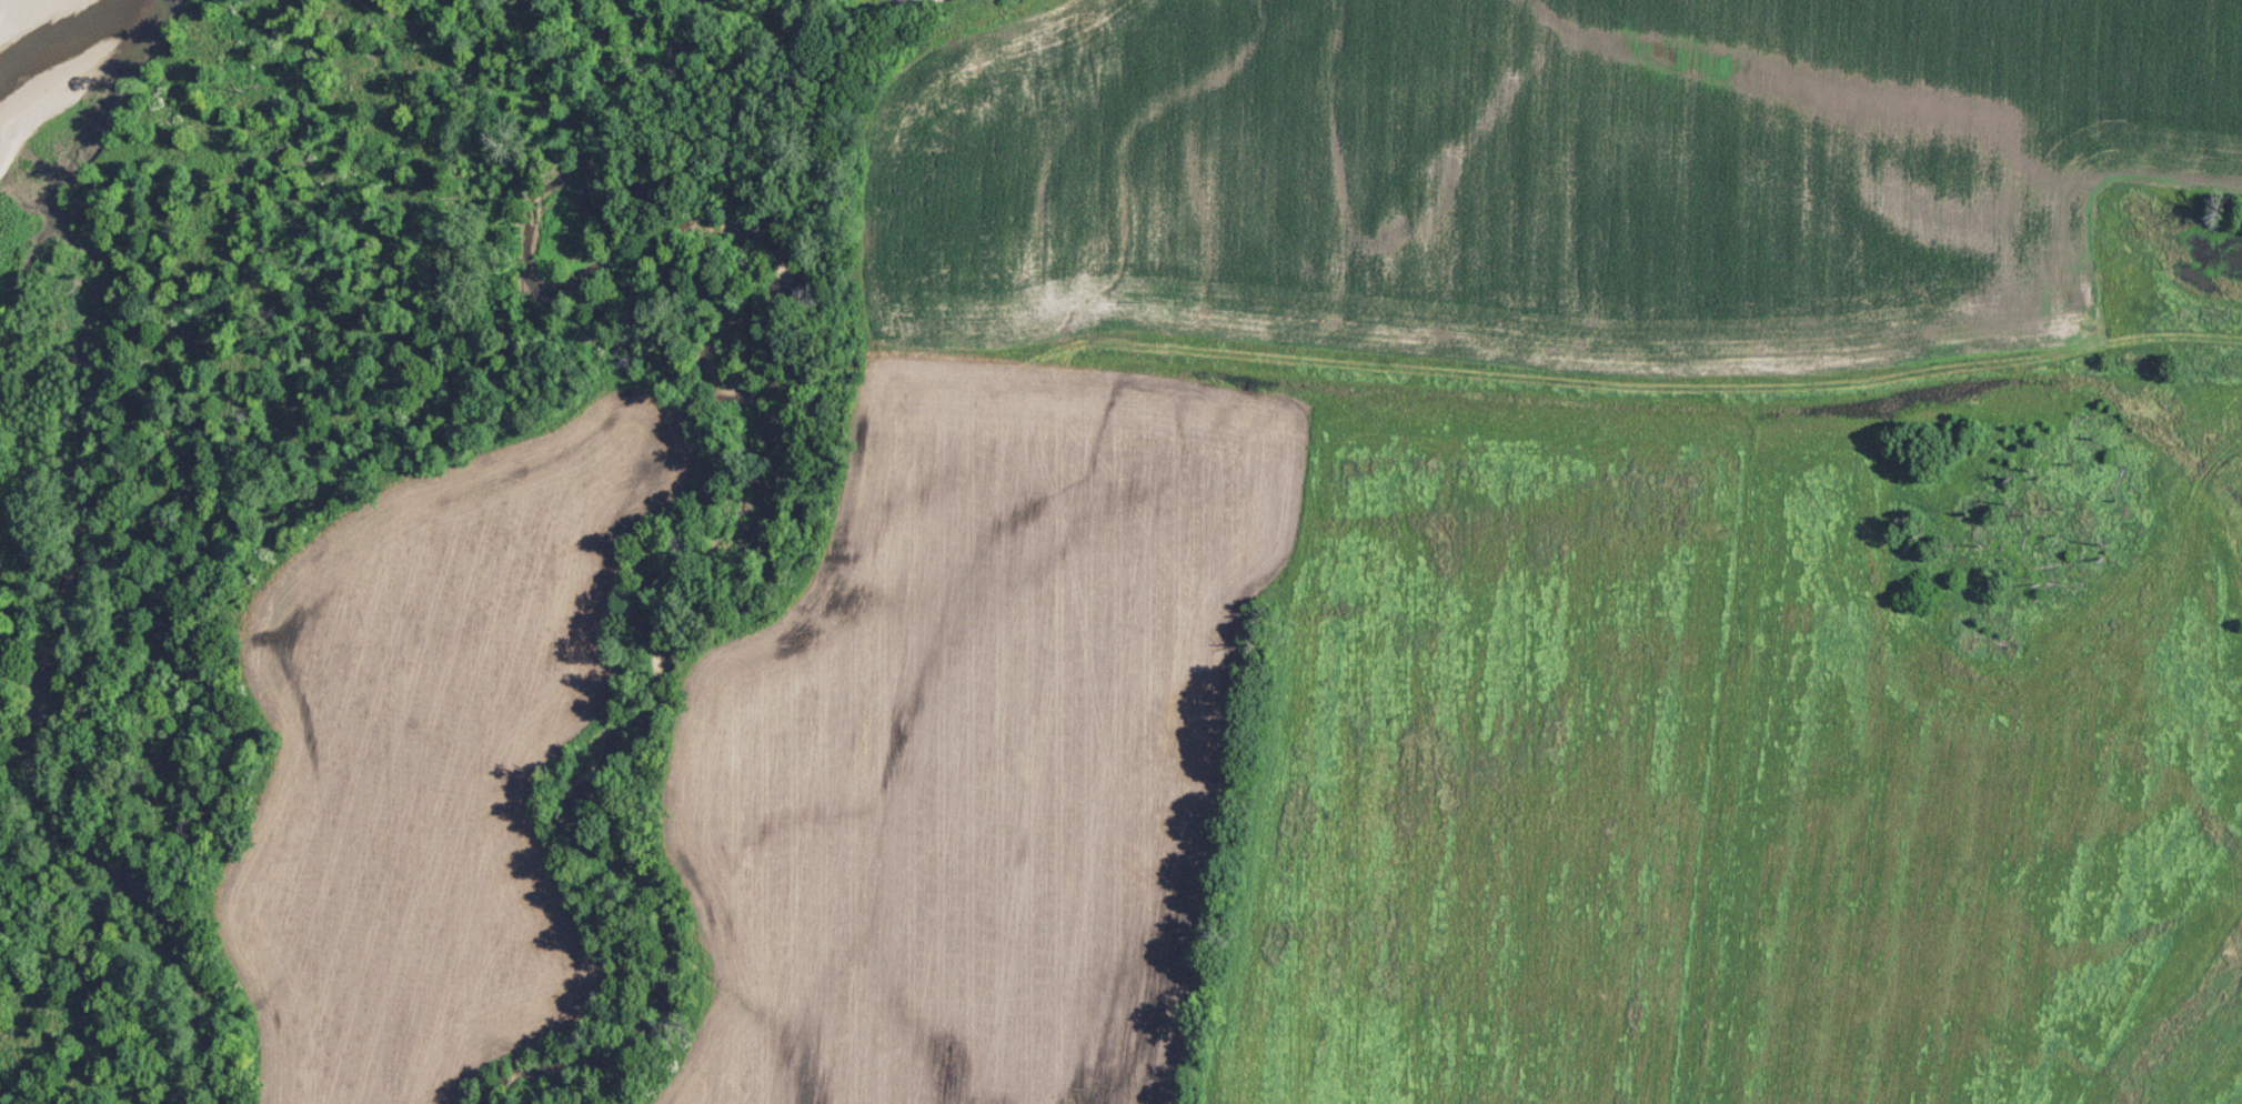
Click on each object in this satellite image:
river: (79, 243)

